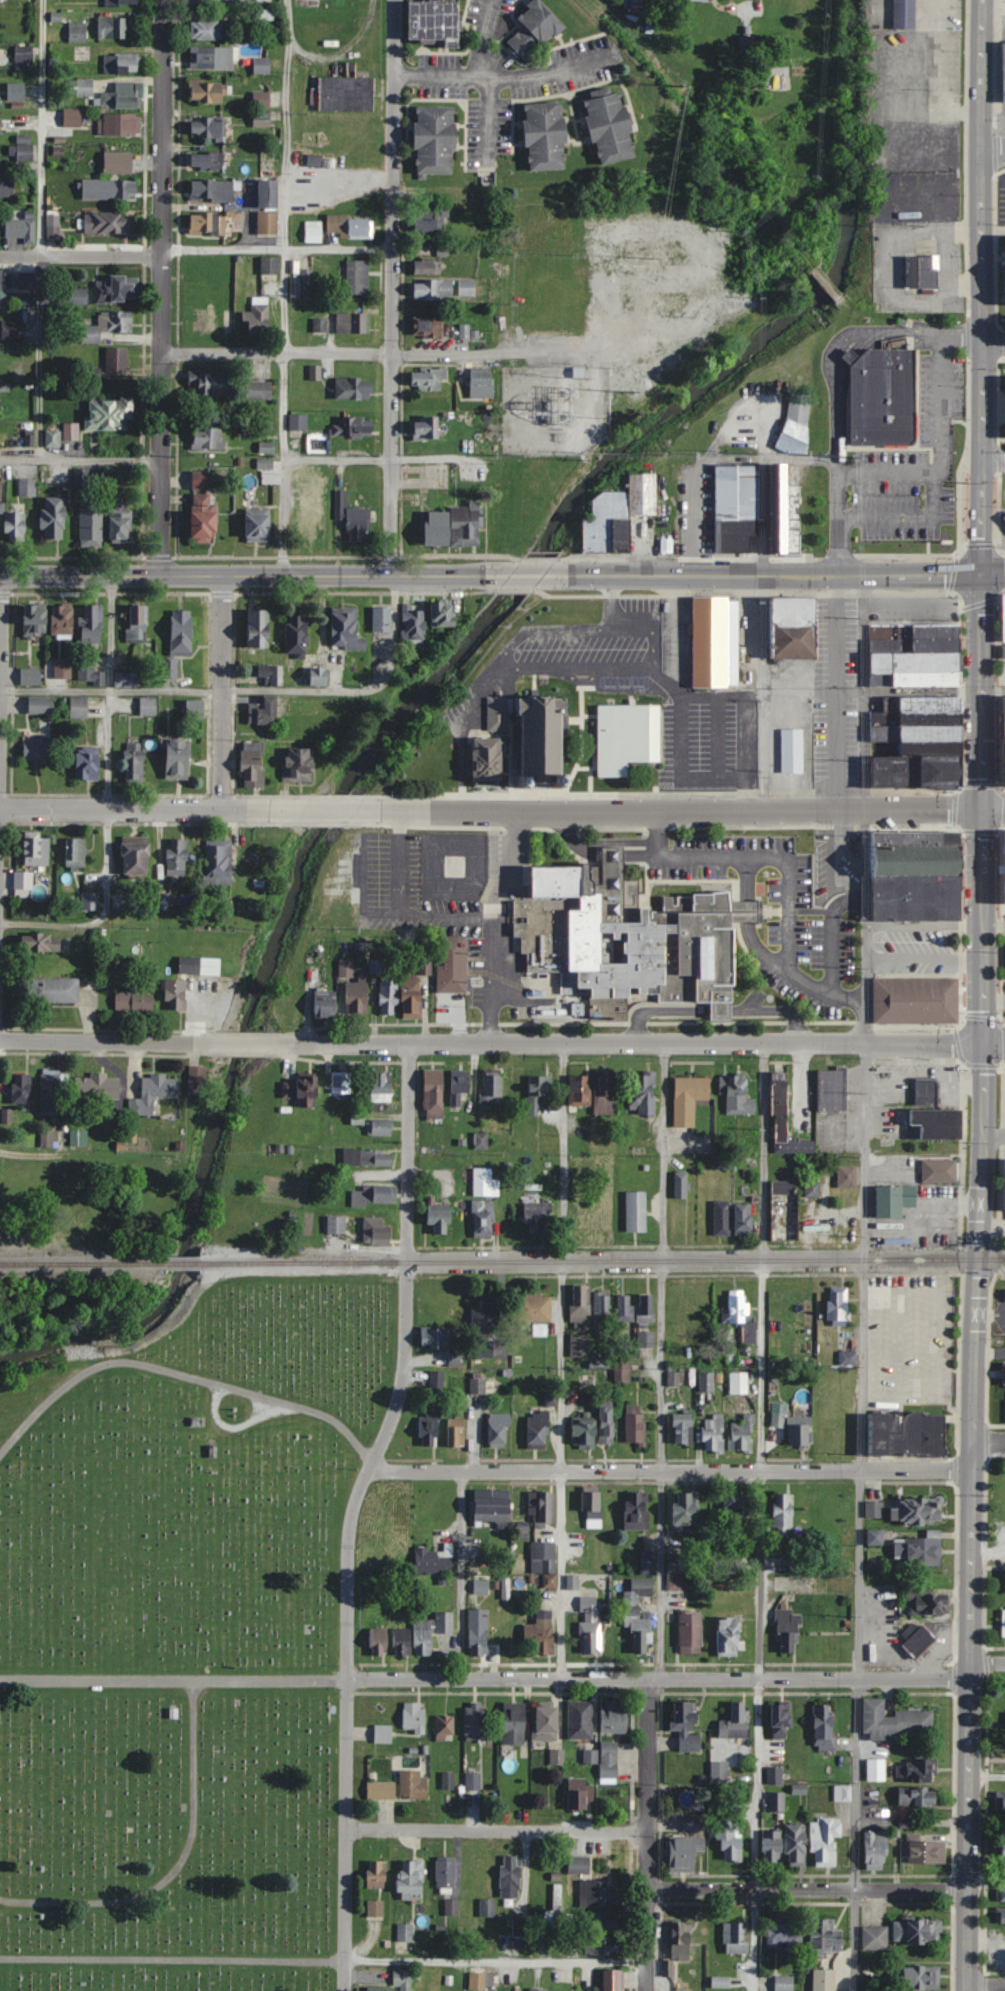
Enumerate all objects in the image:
building: (701, 0)
building: (217, 1)
building: (121, 3)
road: (995, 3)
road: (747, 8)
building: (905, 14)
building: (435, 22)
building: (112, 29)
building: (209, 30)
building: (534, 30)
building: (77, 32)
road: (480, 41)
building: (24, 54)
building: (211, 58)
building: (265, 62)
building: (121, 64)
building: (1002, 70)
road: (502, 81)
building: (84, 88)
building: (16, 92)
building: (207, 92)
building: (346, 94)
building: (121, 97)
building: (261, 100)
building: (72, 118)
building: (261, 119)
road: (485, 122)
building: (119, 125)
building: (207, 126)
building: (0, 127)
road: (164, 127)
building: (611, 129)
building: (546, 136)
building: (436, 141)
building: (25, 148)
road: (995, 151)
building: (206, 160)
building: (314, 161)
building: (118, 163)
road: (394, 176)
road: (339, 179)
building: (6, 187)
building: (122, 190)
building: (212, 190)
building: (268, 194)
building: (434, 220)
building: (267, 223)
building: (107, 224)
building: (207, 224)
building: (351, 227)
building: (21, 229)
building: (313, 231)
road: (277, 248)
road: (81, 255)
building: (269, 266)
building: (427, 267)
building: (920, 269)
building: (212, 271)
building: (302, 276)
building: (357, 276)
building: (13, 280)
road: (285, 284)
building: (0, 285)
road: (984, 286)
road: (38, 288)
building: (467, 288)
building: (434, 289)
building: (115, 290)
building: (1004, 295)
building: (76, 296)
road: (162, 304)
building: (260, 315)
building: (229, 320)
building: (353, 324)
building: (320, 325)
building: (107, 326)
building: (429, 327)
building: (12, 329)
road: (994, 339)
road: (277, 354)
road: (517, 354)
road: (831, 357)
building: (116, 360)
building: (428, 379)
building: (210, 383)
building: (481, 386)
building: (354, 388)
building: (259, 390)
building: (880, 394)
power substation: (553, 407)
building: (109, 415)
building: (298, 422)
building: (796, 423)
building: (351, 428)
building: (426, 429)
building: (53, 439)
building: (209, 440)
road: (994, 455)
road: (1003, 456)
road: (20, 458)
road: (391, 464)
road: (159, 465)
building: (305, 475)
road: (928, 477)
road: (693, 481)
building: (27, 488)
building: (0, 489)
building: (203, 506)
building: (736, 507)
building: (786, 514)
building: (619, 516)
building: (1003, 516)
building: (352, 517)
building: (54, 518)
road: (284, 518)
building: (120, 521)
building: (311, 521)
road: (909, 523)
building: (258, 526)
building: (15, 527)
building: (91, 527)
building: (454, 527)
traffic signals: (984, 573)
road: (786, 574)
road: (527, 575)
road: (242, 576)
building: (444, 612)
building: (1002, 615)
building: (382, 618)
building: (35, 619)
building: (62, 619)
building: (136, 622)
building: (414, 622)
building: (92, 623)
building: (794, 626)
building: (259, 627)
building: (346, 628)
building: (912, 629)
building: (182, 631)
building: (297, 633)
building: (714, 643)
building: (911, 644)
building: (1003, 649)
building: (913, 661)
building: (62, 667)
building: (89, 670)
building: (271, 673)
building: (30, 676)
building: (319, 676)
building: (913, 678)
building: (125, 679)
river: (432, 686)
road: (994, 688)
road: (357, 690)
road: (111, 691)
road: (223, 692)
road: (858, 692)
building: (921, 702)
building: (41, 704)
building: (1004, 704)
building: (148, 706)
building: (79, 707)
building: (195, 708)
building: (264, 710)
building: (914, 716)
building: (1004, 725)
building: (914, 732)
building: (831, 734)
building: (627, 736)
building: (524, 740)
building: (914, 747)
building: (37, 748)
building: (792, 749)
building: (1004, 749)
building: (178, 758)
building: (88, 762)
building: (134, 762)
building: (252, 763)
building: (299, 764)
building: (914, 770)
building: (1004, 773)
road: (107, 800)
road: (133, 808)
road: (324, 809)
traffic signals: (981, 809)
road: (692, 812)
building: (36, 851)
building: (913, 851)
building: (75, 853)
building: (177, 856)
road: (861, 857)
building: (135, 858)
building: (218, 861)
building: (1003, 862)
road: (788, 871)
building: (23, 879)
building: (913, 894)
building: (90, 900)
building: (120, 900)
building: (1003, 907)
road: (993, 924)
building: (628, 936)
road: (829, 936)
building: (42, 941)
building: (1004, 959)
building: (452, 963)
building: (199, 965)
road: (864, 973)
building: (55, 989)
building: (176, 994)
building: (357, 996)
building: (388, 996)
building: (412, 997)
building: (914, 998)
building: (134, 1000)
building: (325, 1003)
road: (105, 1042)
road: (640, 1042)
road: (243, 1043)
traffic signals: (982, 1044)
building: (197, 1079)
building: (86, 1080)
building: (341, 1082)
road: (802, 1082)
building: (459, 1085)
building: (22, 1088)
building: (491, 1089)
building: (307, 1090)
building: (580, 1090)
building: (831, 1090)
building: (380, 1091)
building: (52, 1092)
building: (537, 1092)
building: (642, 1092)
building: (927, 1092)
building: (154, 1093)
building: (434, 1093)
building: (605, 1094)
building: (736, 1094)
building: (689, 1098)
building: (110, 1110)
building: (357, 1119)
building: (785, 1120)
building: (936, 1123)
building: (379, 1127)
building: (433, 1136)
building: (79, 1137)
building: (49, 1138)
building: (481, 1140)
road: (993, 1140)
road: (562, 1150)
building: (368, 1157)
building: (721, 1162)
building: (939, 1171)
building: (847, 1176)
building: (484, 1183)
building: (681, 1185)
building: (1004, 1187)
building: (782, 1188)
building: (812, 1189)
building: (375, 1195)
building: (894, 1200)
building: (636, 1212)
building: (537, 1217)
building: (722, 1217)
building: (440, 1219)
building: (482, 1219)
building: (743, 1219)
building: (336, 1224)
building: (784, 1228)
building: (376, 1232)
road: (692, 1255)
railway: (180, 1260)
railway: (601, 1261)
railway: (81, 1262)
road: (976, 1282)
building: (780, 1305)
building: (838, 1305)
building: (580, 1307)
building: (601, 1307)
building: (534, 1308)
building: (646, 1308)
building: (624, 1309)
building: (802, 1310)
building: (742, 1317)
building: (485, 1319)
building: (645, 1339)
building: (446, 1342)
building: (578, 1345)
road: (662, 1359)
building: (623, 1368)
building: (1004, 1373)
road: (182, 1374)
building: (435, 1379)
building: (706, 1381)
building: (739, 1382)
building: (477, 1385)
building: (840, 1421)
building: (606, 1423)
building: (430, 1427)
building: (636, 1428)
building: (683, 1428)
building: (795, 1428)
building: (498, 1429)
building: (456, 1430)
building: (538, 1430)
building: (584, 1432)
building: (714, 1434)
building: (742, 1434)
building: (907, 1434)
road: (989, 1440)
road: (559, 1467)
road: (672, 1469)
building: (736, 1500)
building: (545, 1509)
building: (593, 1509)
building: (875, 1509)
building: (636, 1510)
building: (686, 1510)
building: (921, 1510)
building: (492, 1511)
road: (353, 1512)
building: (783, 1514)
road: (761, 1516)
building: (875, 1537)
road: (989, 1549)
building: (923, 1551)
building: (545, 1558)
building: (435, 1559)
building: (646, 1562)
building: (798, 1564)
building: (725, 1565)
road: (459, 1574)
building: (677, 1574)
building: (638, 1591)
building: (927, 1602)
building: (1003, 1622)
building: (592, 1625)
building: (640, 1630)
building: (787, 1630)
building: (478, 1632)
building: (690, 1634)
building: (422, 1635)
building: (541, 1636)
building: (729, 1636)
park: (182, 1639)
building: (918, 1640)
building: (379, 1642)
road: (988, 1659)
road: (658, 1678)
road: (172, 1680)
building: (414, 1716)
building: (614, 1717)
building: (781, 1718)
building: (581, 1719)
building: (475, 1720)
building: (736, 1721)
building: (895, 1721)
building: (514, 1723)
building: (546, 1723)
building: (686, 1726)
building: (824, 1727)
building: (444, 1728)
road: (859, 1729)
building: (382, 1733)
building: (590, 1755)
building: (997, 1757)
building: (609, 1759)
building: (876, 1769)
building: (916, 1770)
building: (719, 1771)
building: (774, 1775)
road: (987, 1778)
building: (448, 1780)
building: (472, 1781)
building: (414, 1784)
building: (381, 1790)
building: (842, 1792)
building: (578, 1793)
building: (918, 1796)
building: (776, 1801)
building: (1002, 1804)
building: (692, 1824)
road: (497, 1831)
road: (647, 1834)
building: (730, 1840)
building: (825, 1841)
building: (796, 1845)
building: (772, 1846)
building: (876, 1849)
building: (924, 1852)
building: (1003, 1852)
building: (685, 1853)
building: (579, 1865)
road: (176, 1866)
building: (446, 1873)
building: (377, 1874)
road: (987, 1876)
building: (511, 1877)
building: (411, 1880)
road: (807, 1890)
building: (1001, 1893)
building: (599, 1894)
building: (451, 1907)
building: (375, 1908)
building: (1000, 1916)
building: (552, 1917)
building: (519, 1927)
building: (918, 1931)
building: (405, 1932)
building: (784, 1933)
building: (601, 1934)
building: (736, 1938)
building: (875, 1938)
building: (681, 1940)
road: (171, 1960)
road: (495, 1962)
building: (841, 1962)
building: (403, 1979)
building: (920, 1979)
building: (612, 1980)
building: (481, 1982)
building: (720, 1983)
building: (784, 1983)
road: (986, 1987)
building: (385, 1989)
building: (538, 1990)

